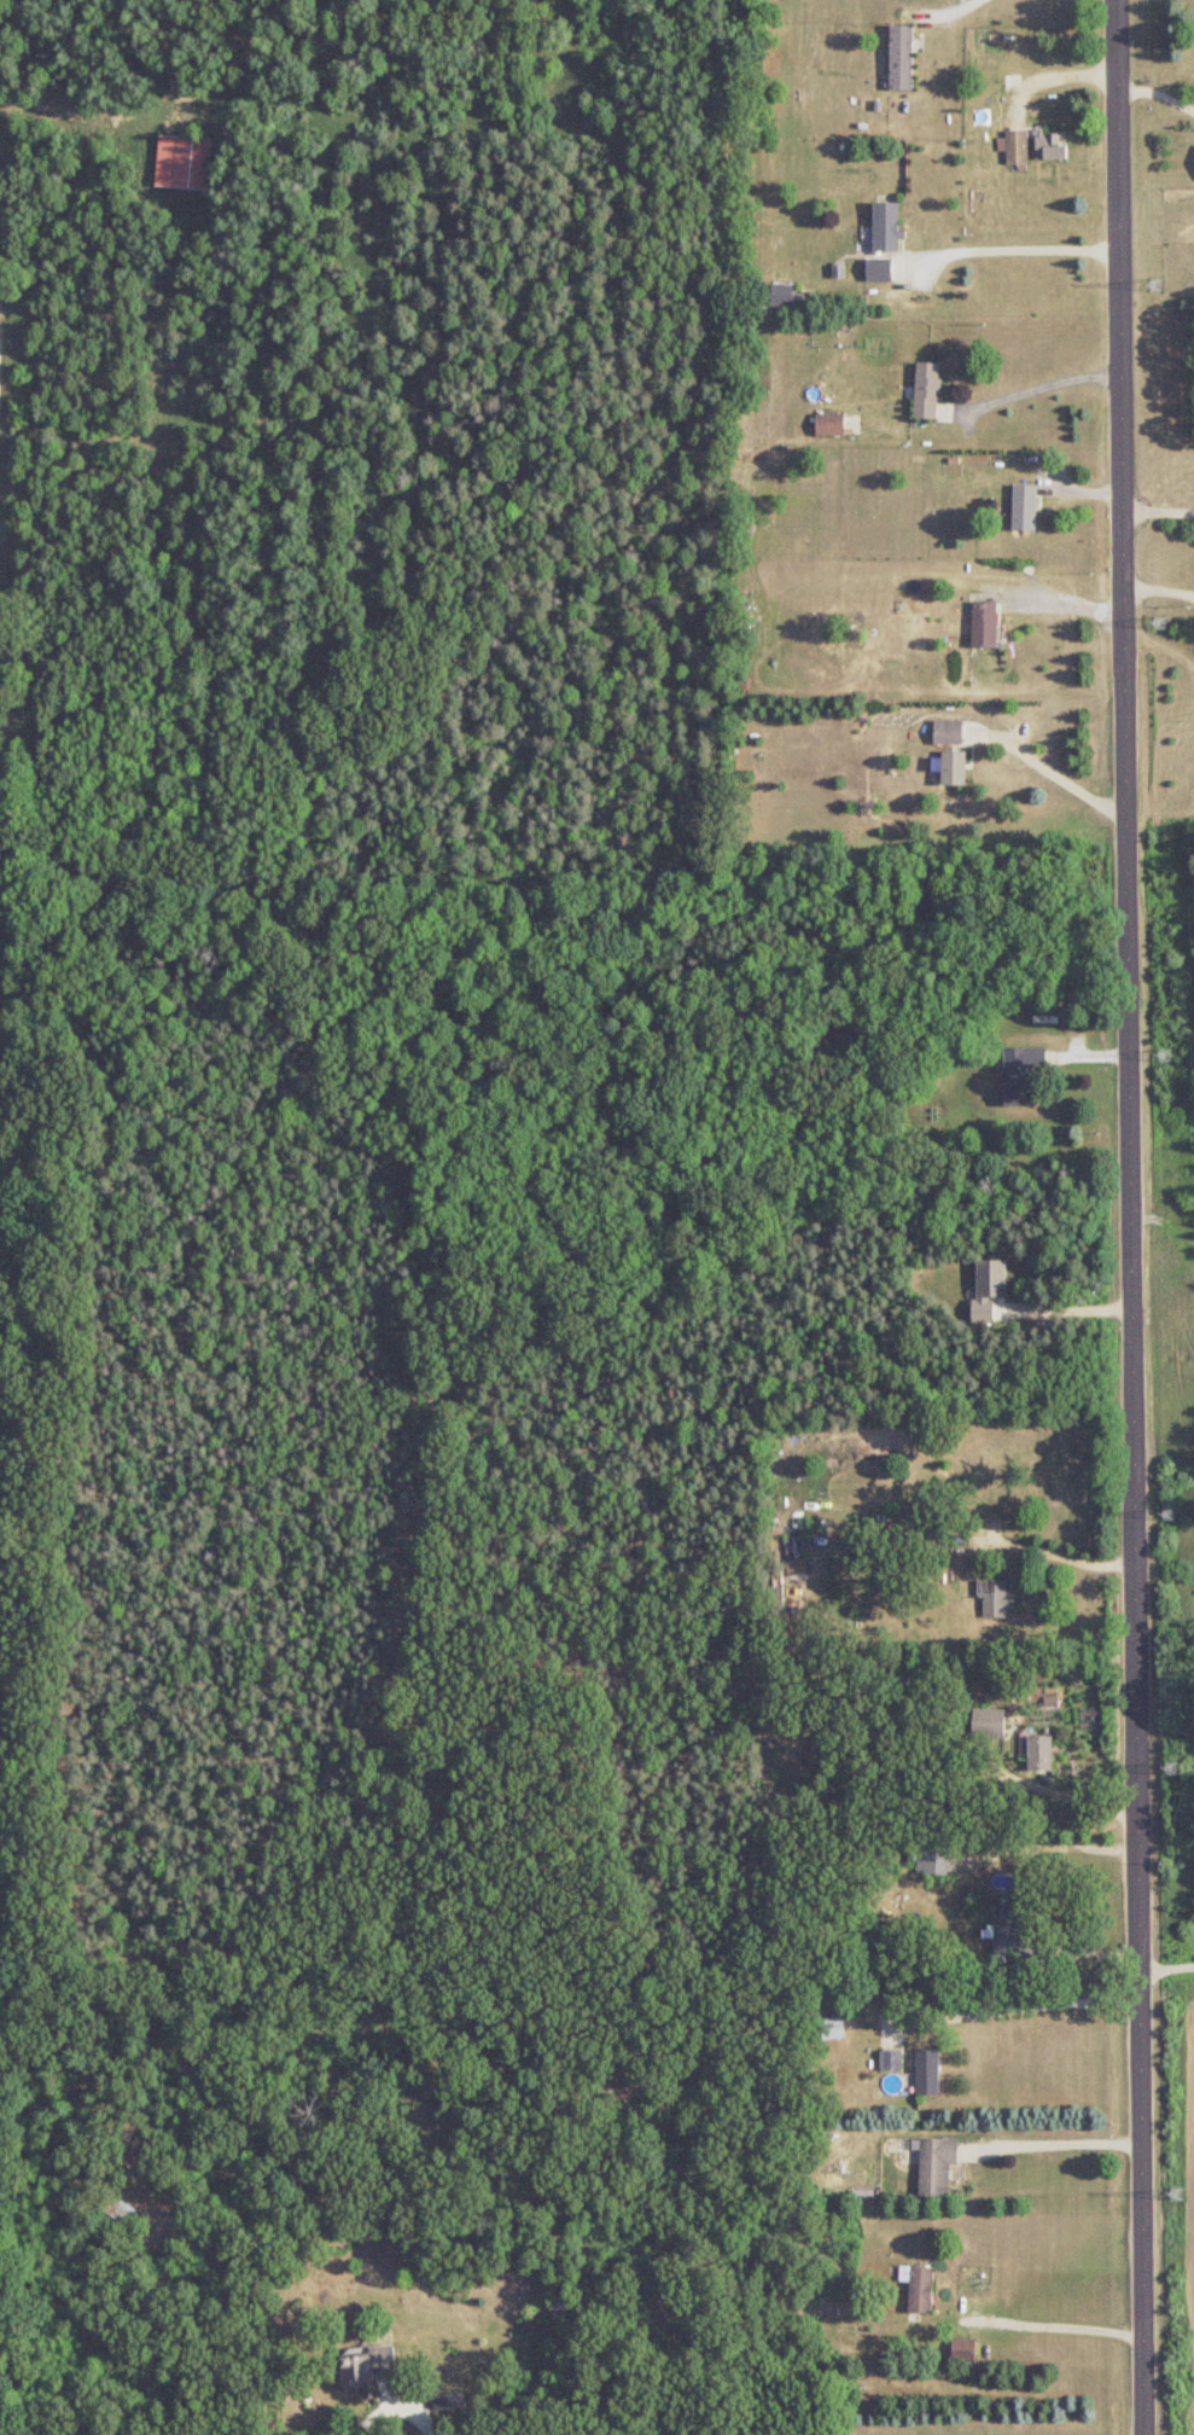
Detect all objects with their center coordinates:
road: (954, 8)
building: (902, 58)
road: (1157, 100)
building: (1050, 146)
building: (1017, 149)
building: (184, 162)
building: (886, 228)
road: (1017, 249)
building: (878, 271)
power tower: (1158, 286)
building: (781, 296)
road: (1035, 388)
building: (927, 391)
building: (829, 425)
building: (1025, 508)
road: (1158, 508)
power tower: (1157, 622)
building: (984, 626)
building: (948, 732)
building: (950, 768)
road: (1052, 769)
power tower: (1166, 1054)
building: (1020, 1073)
road: (1130, 1216)
power tower: (1167, 1511)
road: (1066, 1552)
building: (797, 1568)
building: (996, 1599)
building: (989, 1722)
building: (1041, 1753)
power tower: (1167, 1768)
building: (932, 1856)
building: (1010, 1937)
road: (1166, 1974)
road: (1023, 2006)
building: (832, 2028)
building: (890, 2059)
building: (927, 2071)
road: (1065, 2143)
building: (936, 2164)
power tower: (1176, 2193)
building: (117, 2209)
building: (920, 2289)
road: (1054, 2323)
building: (963, 2350)
building: (365, 2366)
building: (448, 2402)
road: (397, 2404)

